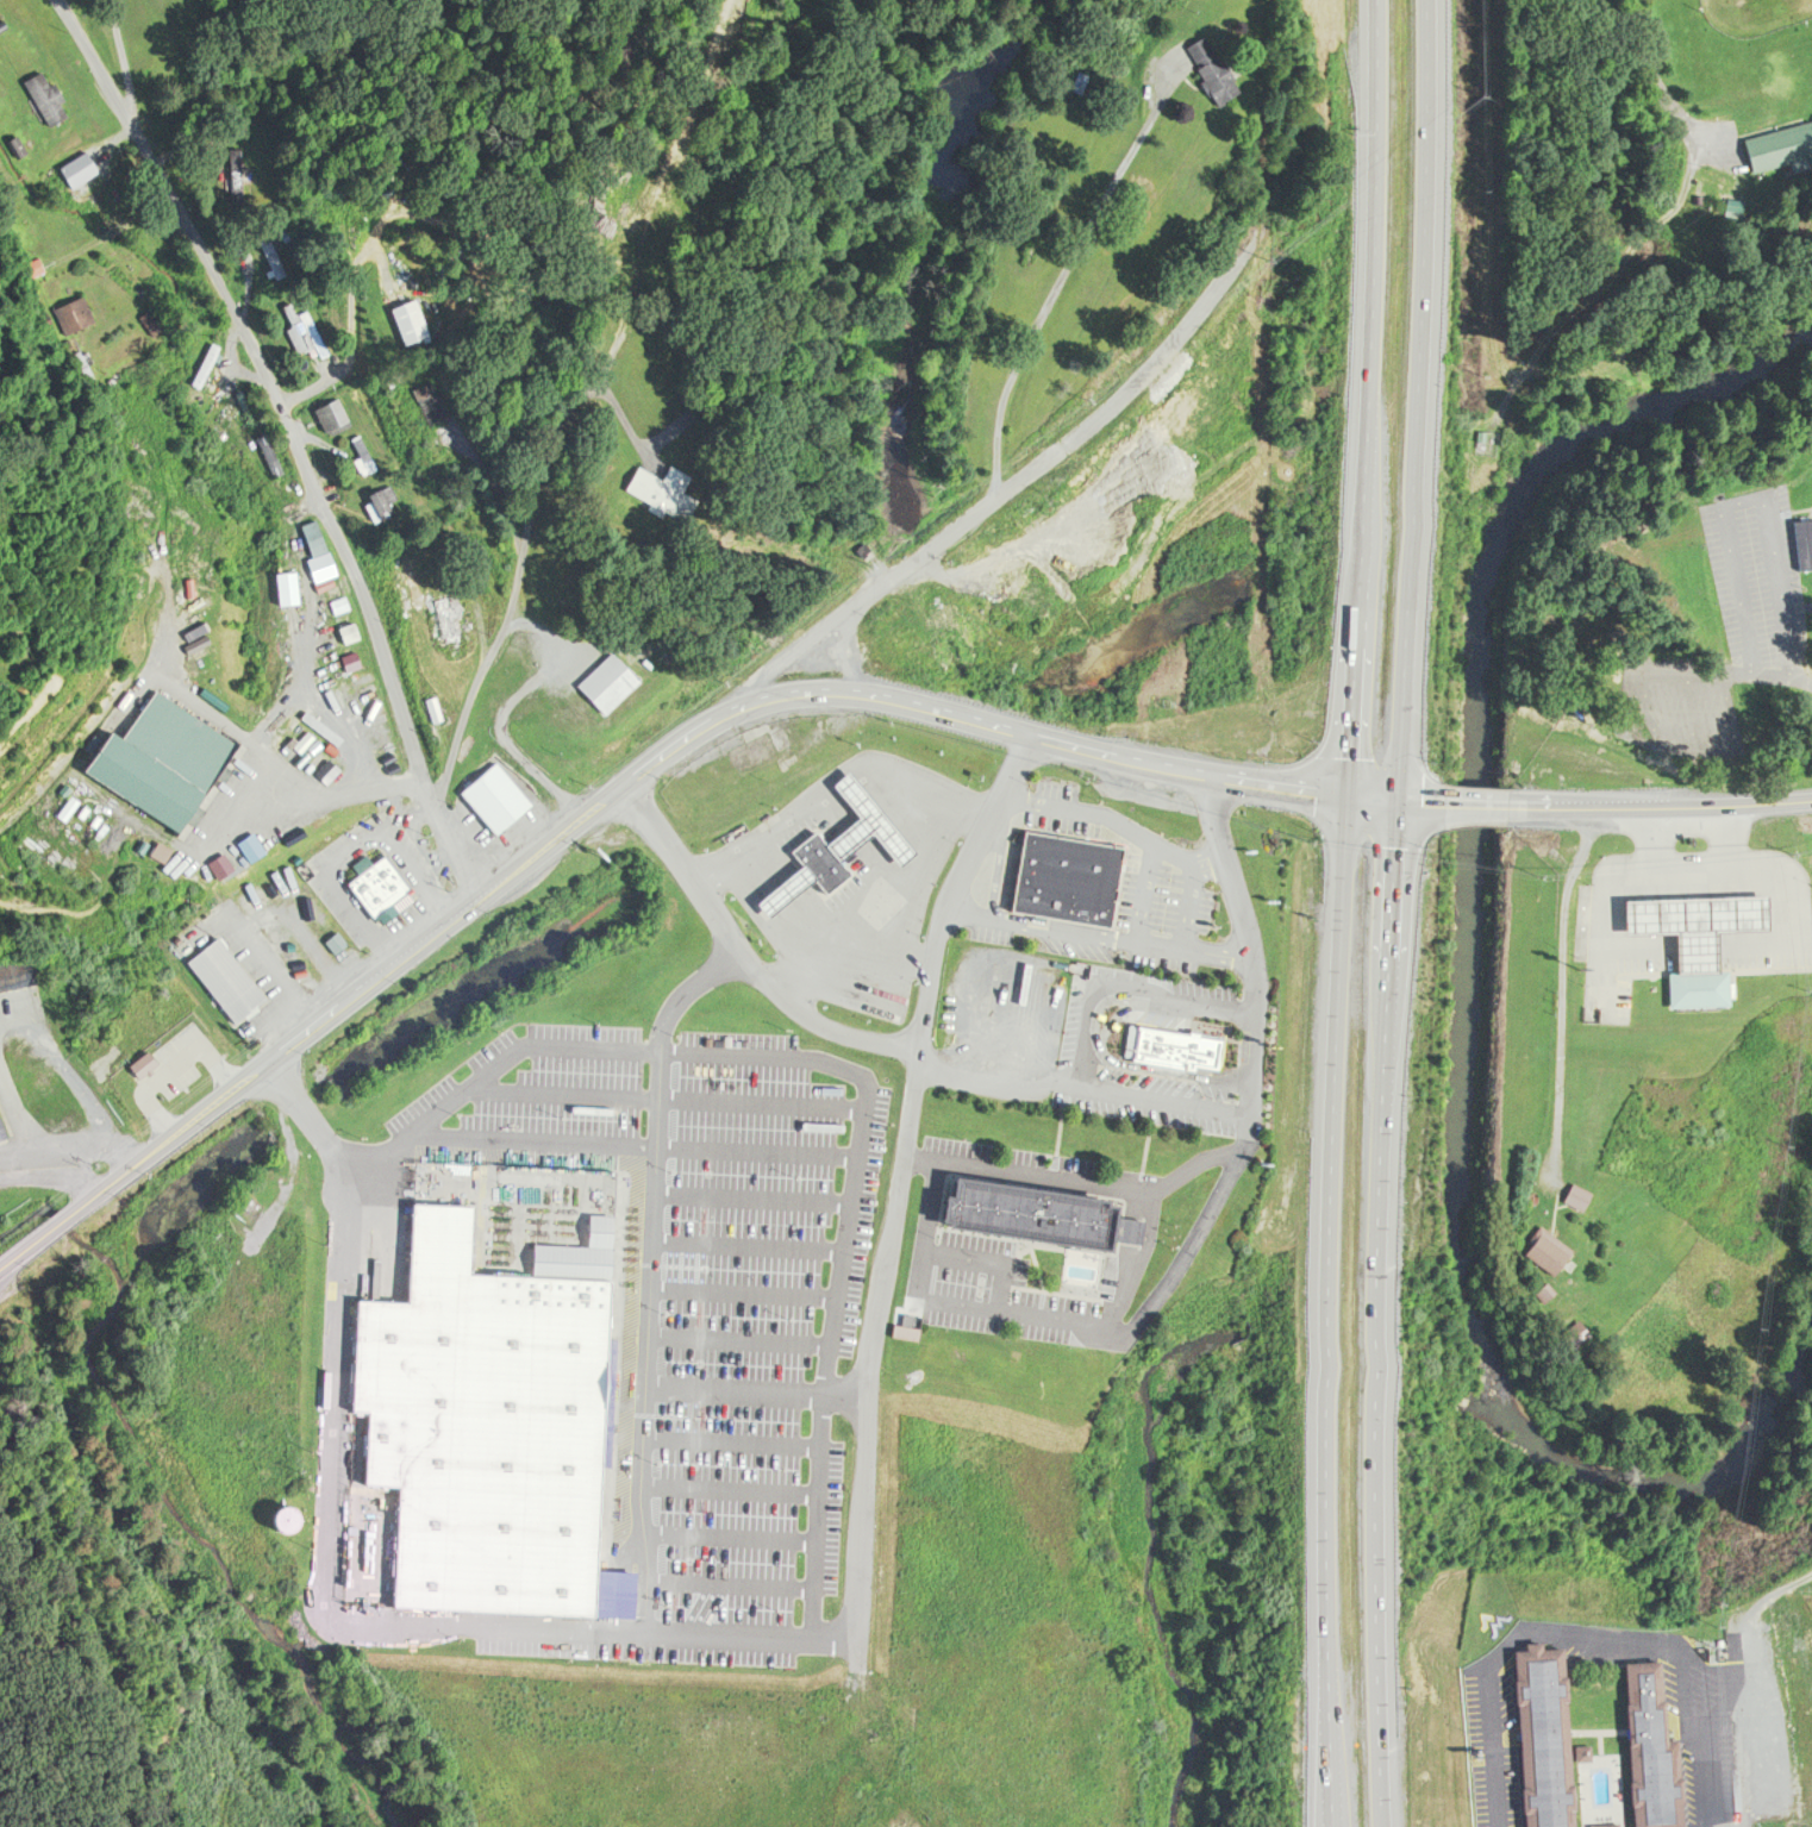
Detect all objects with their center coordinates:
building: (0, 1)
park: (1755, 14)
building: (1219, 61)
building: (1205, 65)
road: (127, 68)
road: (1669, 86)
building: (55, 94)
building: (1782, 138)
building: (240, 176)
building: (276, 258)
road: (1608, 270)
building: (79, 311)
building: (414, 315)
road: (357, 327)
building: (308, 330)
building: (211, 365)
road: (589, 392)
building: (436, 399)
building: (338, 417)
building: (694, 417)
road: (1006, 434)
road: (292, 439)
building: (1491, 442)
building: (273, 456)
building: (370, 457)
building: (674, 471)
road: (498, 476)
building: (673, 492)
road: (1747, 500)
building: (387, 502)
road: (1049, 533)
building: (1806, 534)
building: (317, 540)
building: (331, 565)
building: (290, 586)
building: (345, 606)
building: (455, 615)
building: (354, 630)
road: (850, 655)
building: (357, 661)
building: (614, 665)
road: (1727, 668)
road: (482, 669)
road: (505, 713)
building: (163, 759)
road: (650, 767)
building: (501, 788)
road: (299, 796)
traffic signals: (1351, 797)
traffic signals: (1400, 803)
road: (1483, 808)
road: (1669, 808)
building: (841, 831)
road: (1735, 837)
road: (1647, 839)
building: (233, 859)
road: (1731, 866)
building: (1071, 870)
building: (387, 888)
road: (1345, 913)
road: (1393, 913)
gas station: (1700, 931)
building: (1688, 936)
road: (1600, 937)
building: (340, 940)
road: (744, 956)
building: (20, 966)
building: (235, 975)
river: (1466, 976)
parking lot: (867, 987)
road: (1567, 1000)
parking lot: (1002, 1011)
building: (1185, 1040)
road: (1089, 1046)
road: (675, 1050)
building: (142, 1063)
road: (81, 1075)
road: (1252, 1081)
road: (1002, 1085)
road: (668, 1096)
building: (2, 1124)
road: (374, 1155)
road: (63, 1166)
road: (1033, 1174)
building: (1582, 1189)
road: (900, 1191)
road: (751, 1195)
building: (1569, 1195)
building: (1050, 1208)
road: (930, 1212)
building: (1552, 1240)
road: (748, 1241)
building: (586, 1249)
building: (1536, 1249)
road: (649, 1276)
road: (743, 1290)
road: (738, 1337)
road: (736, 1388)
road: (845, 1393)
road: (339, 1396)
building: (493, 1425)
road: (731, 1439)
road: (729, 1485)
road: (727, 1534)
road: (732, 1581)
road: (1530, 1626)
road: (643, 1629)
road: (838, 1637)
road: (1729, 1679)
building: (1552, 1735)

